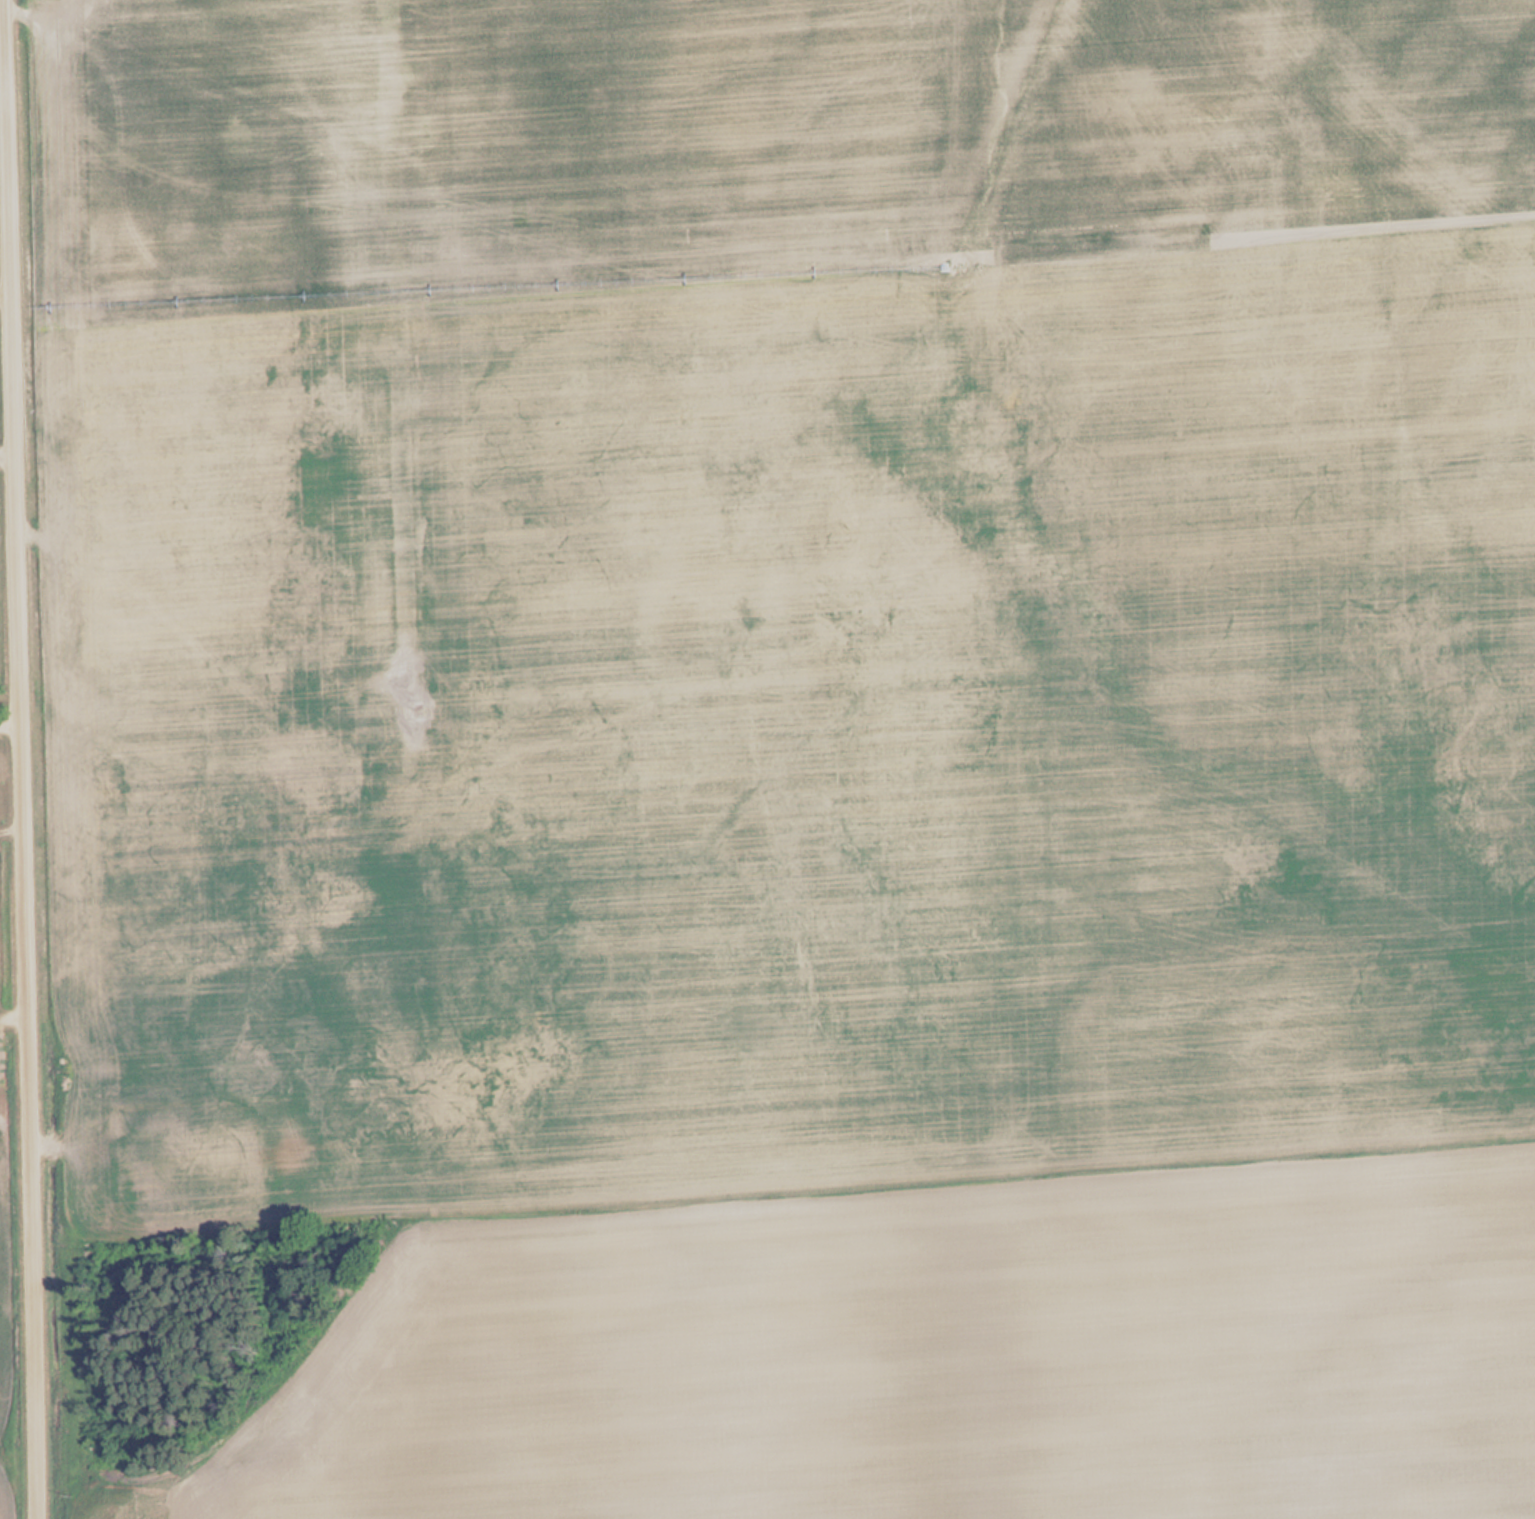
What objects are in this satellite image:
road: (21, 759)

